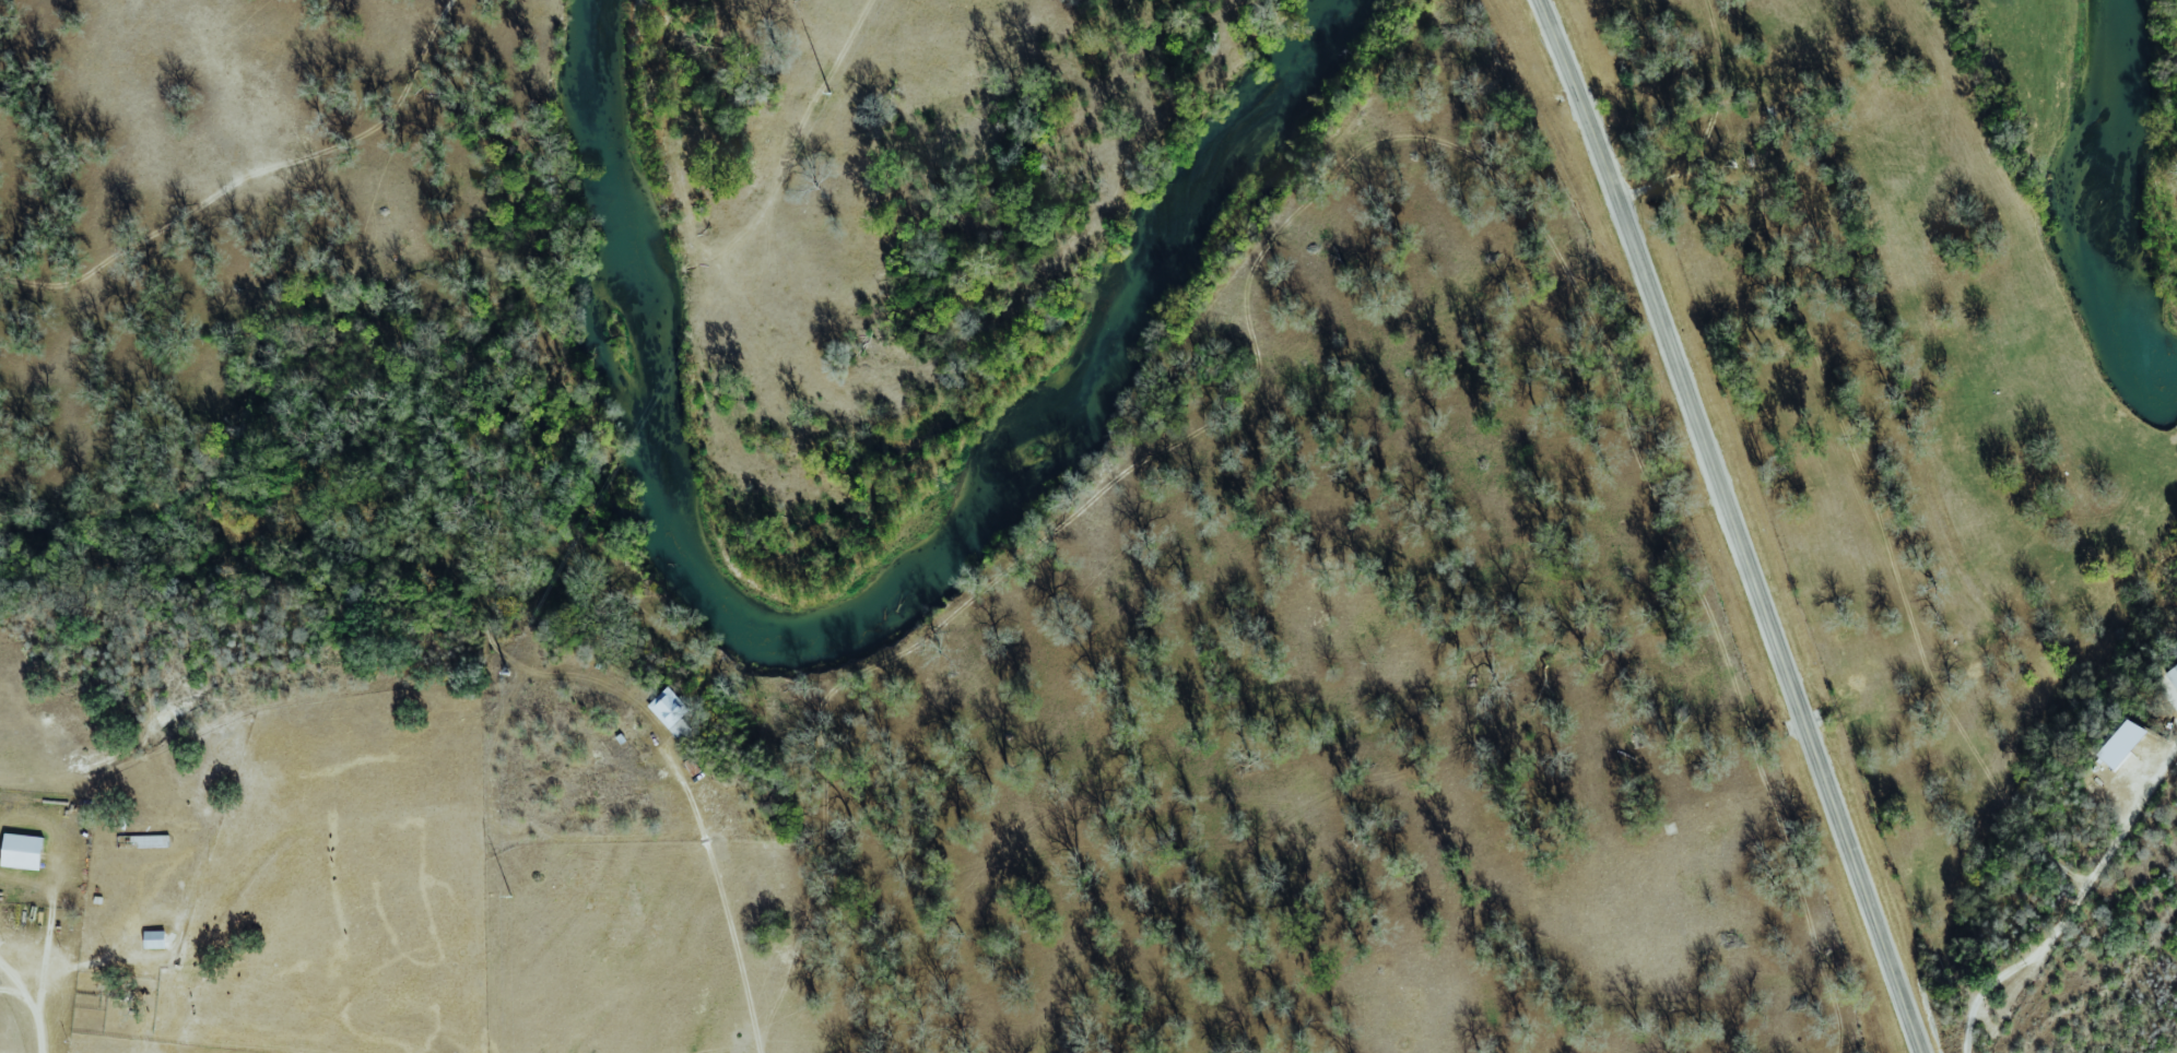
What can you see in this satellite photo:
power tower: (829, 94)
river: (2105, 185)
road: (1737, 524)
river: (872, 600)
power tower: (507, 674)
building: (2172, 674)
building: (670, 711)
building: (20, 851)
power tower: (510, 896)
road: (720, 897)
road: (2071, 906)
road: (47, 936)
building: (153, 939)
road: (45, 991)

